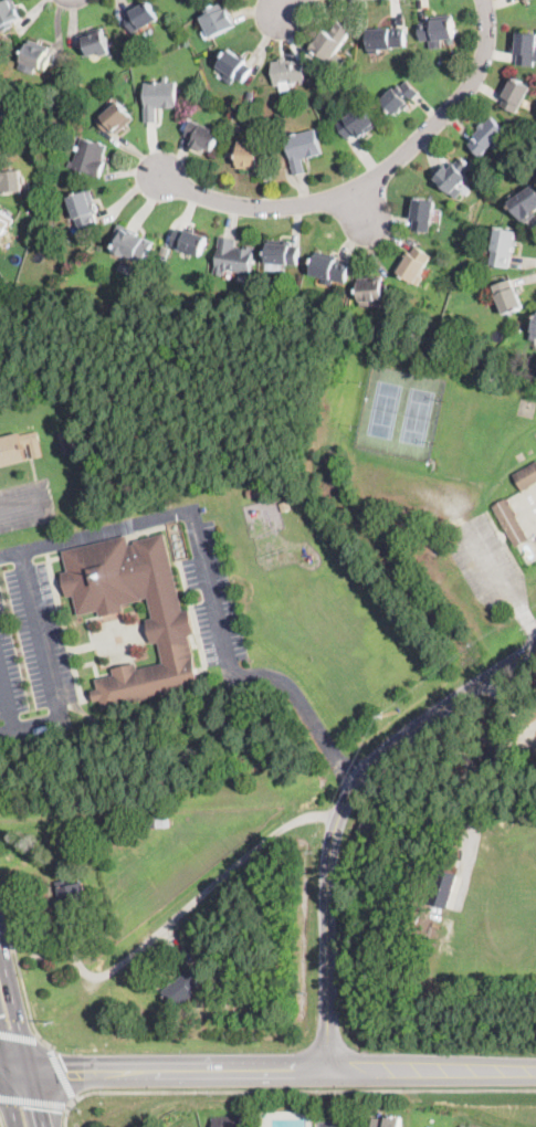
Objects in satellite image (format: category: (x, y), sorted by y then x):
building: (526, 2)
road: (283, 6)
building: (9, 13)
building: (141, 18)
building: (219, 20)
building: (438, 31)
building: (387, 39)
building: (332, 41)
building: (94, 43)
building: (525, 48)
building: (183, 51)
building: (2, 55)
building: (36, 55)
building: (235, 65)
building: (288, 71)
building: (516, 95)
building: (159, 97)
building: (400, 97)
building: (65, 103)
building: (116, 118)
building: (358, 123)
building: (203, 136)
building: (487, 136)
building: (303, 149)
building: (251, 157)
building: (90, 158)
building: (453, 176)
building: (10, 179)
road: (374, 179)
road: (361, 204)
building: (525, 204)
building: (84, 210)
building: (423, 214)
building: (3, 222)
building: (189, 241)
building: (130, 243)
building: (503, 246)
building: (165, 250)
building: (283, 253)
building: (233, 257)
building: (413, 265)
building: (329, 268)
building: (1, 286)
building: (371, 289)
building: (508, 297)
building: (534, 334)
park: (401, 413)
building: (66, 442)
building: (19, 447)
road: (34, 471)
building: (526, 476)
building: (254, 493)
road: (25, 503)
parking lot: (27, 505)
building: (511, 522)
road: (501, 579)
road: (210, 584)
parking lot: (213, 602)
building: (170, 625)
road: (41, 633)
parking lot: (41, 635)
parking lot: (10, 670)
road: (7, 702)
road: (30, 724)
building: (491, 758)
road: (340, 813)
building: (157, 822)
building: (94, 886)
building: (443, 888)
building: (71, 902)
road: (192, 902)
road: (20, 968)
building: (183, 988)
building: (221, 1004)
road: (22, 1033)
road: (21, 1034)
road: (1, 1060)
road: (1, 1068)
road: (17, 1070)
road: (62, 1070)
road: (283, 1071)
traffic signals: (67, 1073)
road: (304, 1091)
road: (10, 1097)
road: (74, 1098)
road: (35, 1102)
traffic signals: (40, 1107)
road: (67, 1113)
road: (1, 1121)
building: (227, 1121)
road: (335, 1121)
building: (387, 1121)
building: (461, 1126)

